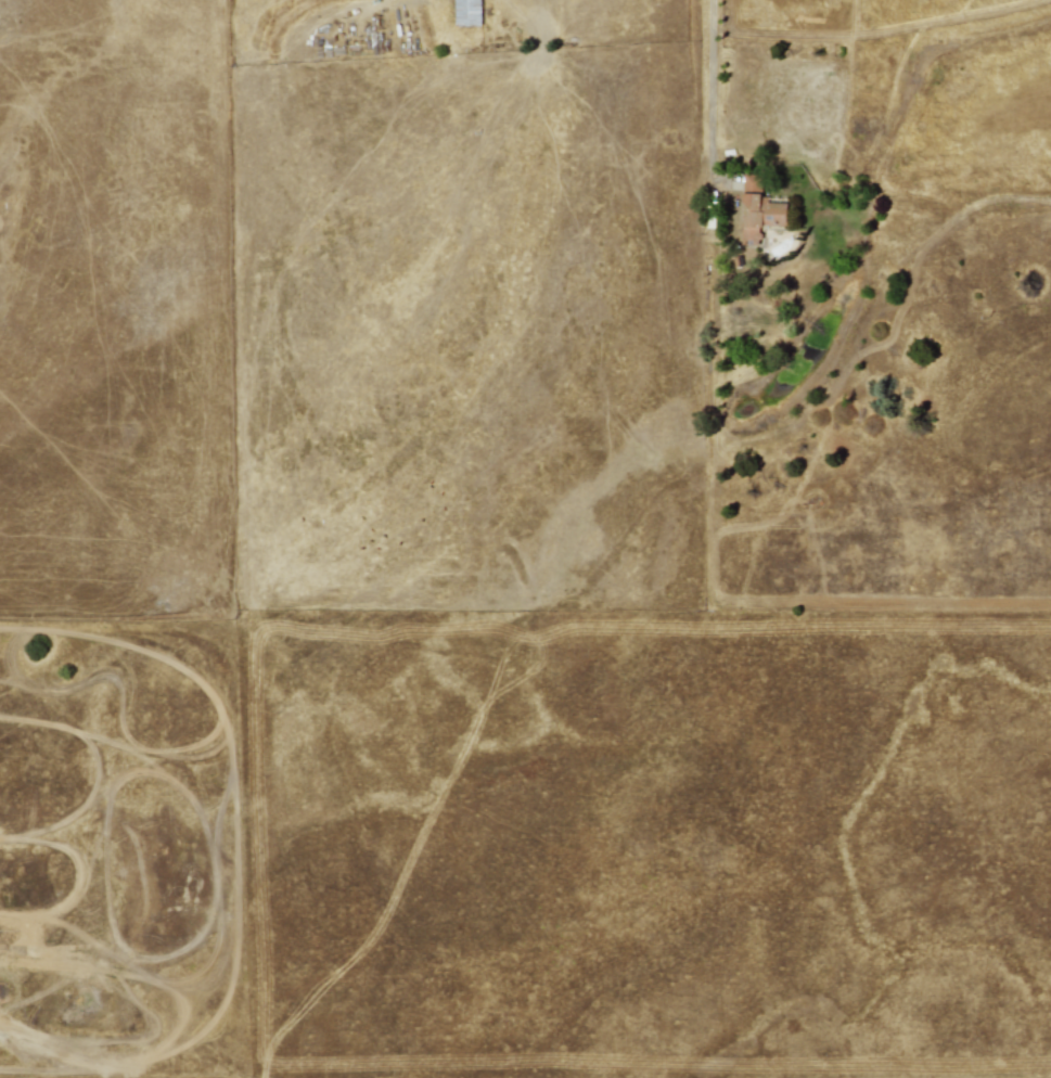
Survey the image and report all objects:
building: (466, 12)
road: (706, 81)
building: (758, 211)

